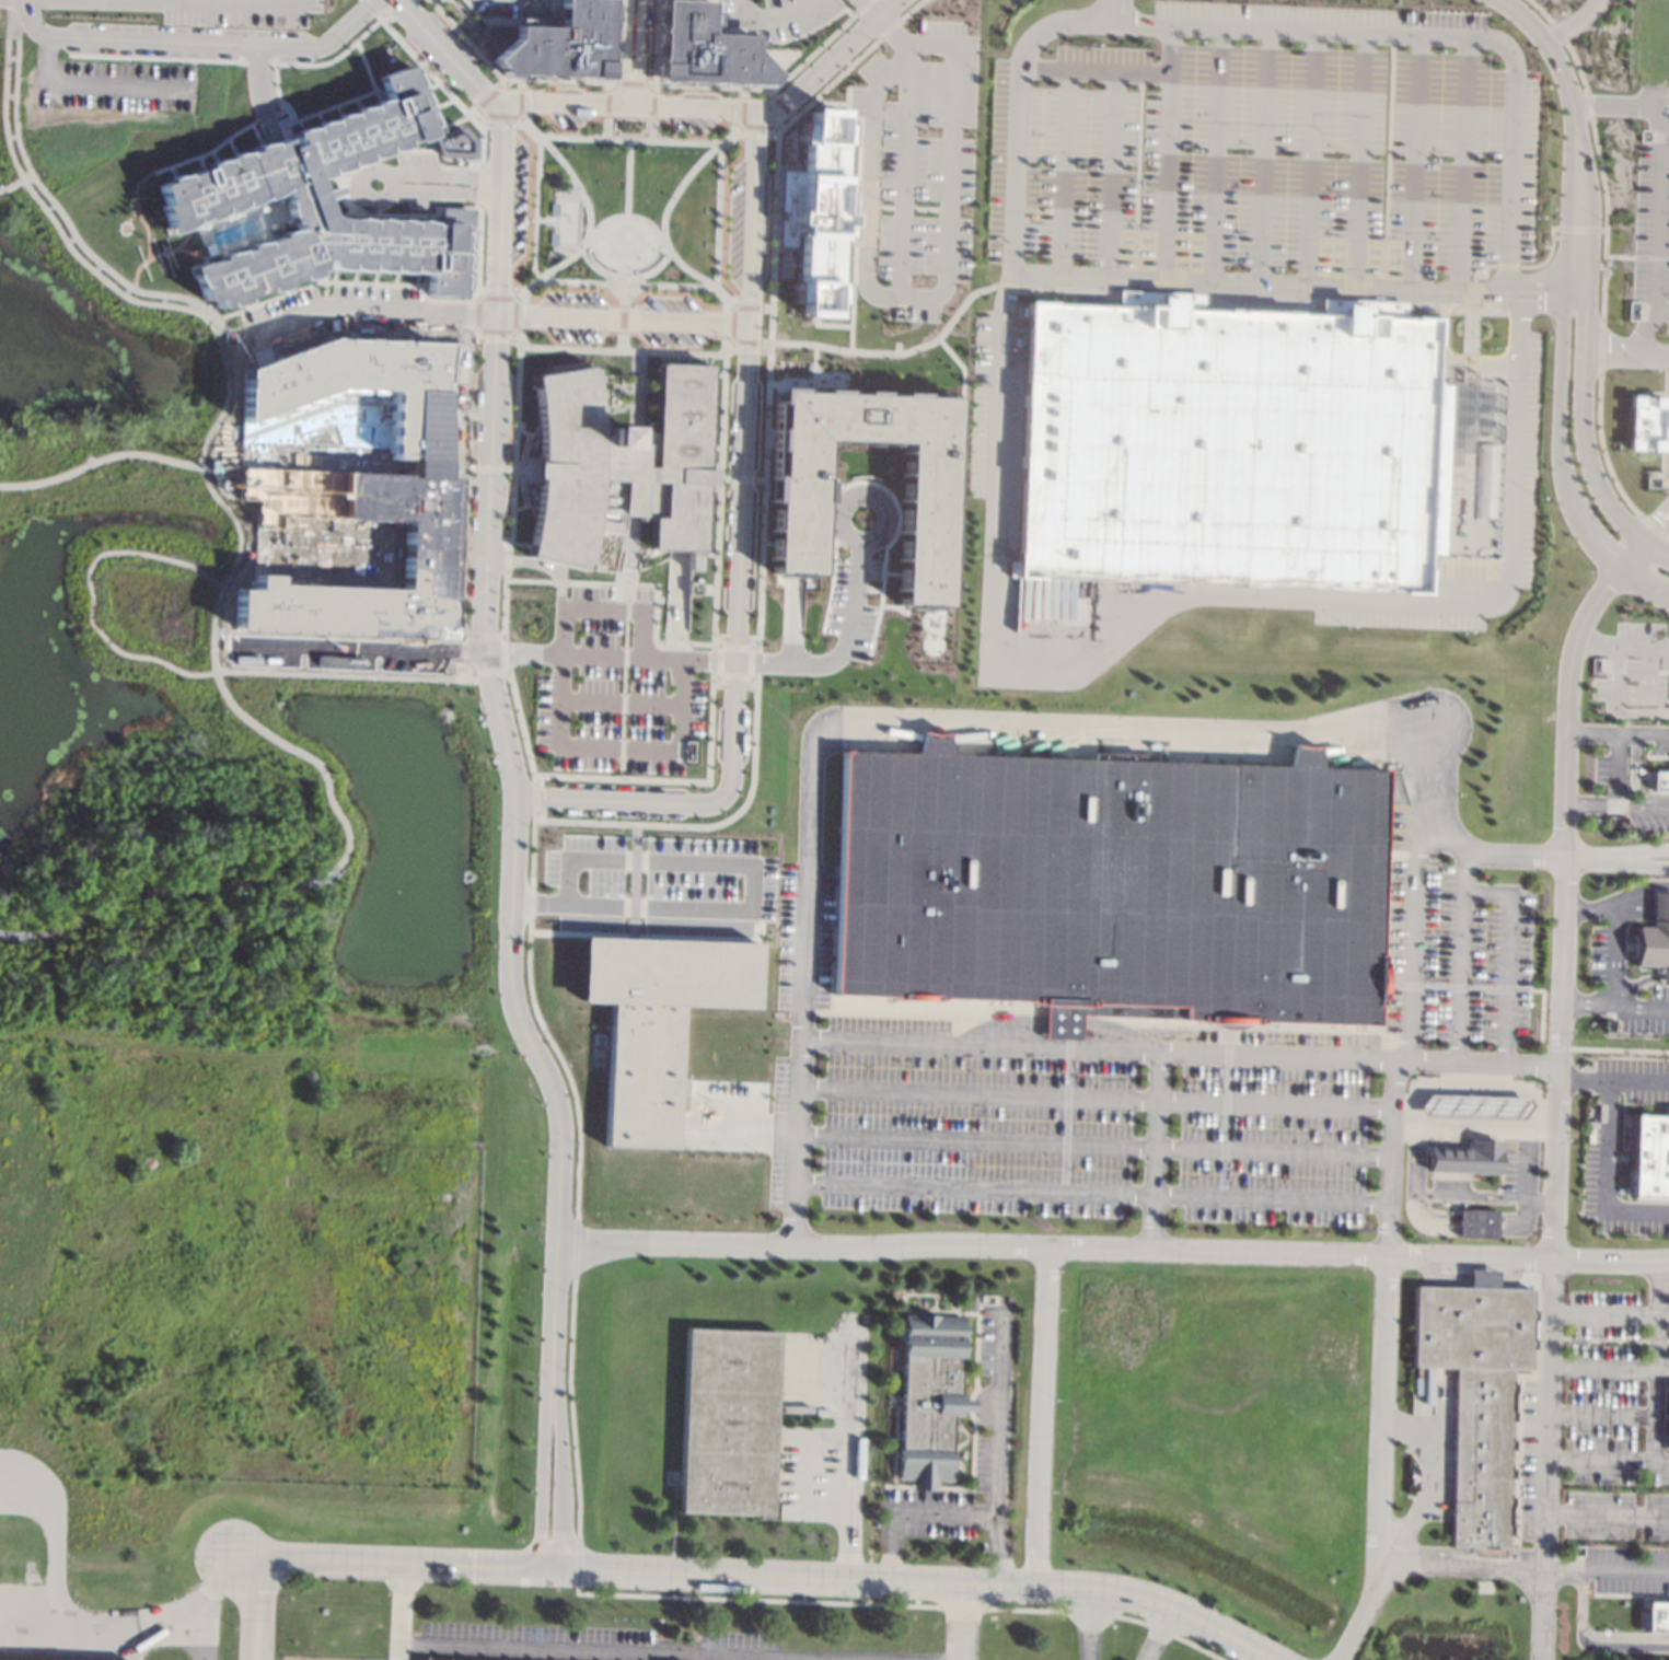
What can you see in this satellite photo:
road: (164, 0)
road: (182, 0)
road: (213, 2)
road: (9, 4)
road: (862, 5)
parking lot: (512, 8)
road: (909, 9)
parking lot: (199, 10)
road: (1117, 10)
road: (1540, 10)
road: (382, 12)
road: (769, 14)
parking lot: (775, 14)
road: (1054, 21)
road: (1143, 22)
road: (1572, 22)
road: (879, 23)
parking lot: (184, 28)
road: (888, 28)
road: (1556, 31)
road: (1463, 35)
road: (611, 40)
road: (193, 42)
road: (654, 42)
building: (559, 45)
road: (1546, 45)
road: (922, 46)
building: (704, 49)
road: (624, 50)
road: (638, 51)
parking lot: (147, 53)
road: (444, 55)
road: (154, 58)
parking lot: (293, 58)
road: (255, 59)
road: (331, 59)
road: (1576, 66)
road: (1093, 71)
road: (503, 79)
road: (499, 82)
road: (611, 82)
road: (629, 82)
road: (96, 83)
road: (519, 83)
parking lot: (112, 85)
road: (440, 85)
road: (653, 88)
road: (765, 89)
road: (742, 91)
road: (275, 92)
road: (258, 93)
road: (769, 93)
road: (486, 96)
road: (605, 103)
road: (651, 104)
road: (780, 104)
road: (1588, 104)
road: (718, 106)
road: (476, 112)
road: (790, 115)
road: (478, 116)
road: (513, 116)
road: (264, 117)
parking lot: (568, 118)
parking lot: (689, 123)
road: (741, 126)
road: (604, 127)
road: (650, 128)
road: (774, 129)
road: (1665, 136)
building: (453, 143)
road: (405, 149)
road: (1164, 150)
parking lot: (1262, 150)
road: (1215, 152)
road: (1262, 154)
road: (1310, 156)
parking lot: (923, 159)
road: (1357, 159)
parking lot: (414, 160)
road: (404, 161)
road: (471, 161)
road: (1414, 162)
road: (1461, 163)
road: (158, 169)
road: (1658, 169)
road: (367, 170)
road: (1060, 171)
road: (566, 172)
road: (1108, 173)
road: (441, 175)
road: (626, 175)
road: (685, 175)
road: (902, 178)
road: (15, 183)
road: (477, 185)
road: (866, 185)
road: (891, 187)
road: (442, 190)
road: (949, 193)
parking lot: (517, 199)
road: (1591, 199)
road: (1566, 200)
road: (53, 204)
building: (317, 204)
parking lot: (415, 205)
road: (849, 206)
road: (862, 206)
road: (535, 207)
road: (883, 207)
road: (901, 208)
building: (548, 209)
park: (625, 209)
road: (930, 209)
building: (813, 210)
road: (405, 214)
road: (715, 214)
road: (750, 217)
road: (1604, 217)
road: (543, 220)
parking lot: (732, 222)
road: (889, 225)
parking lot: (1651, 227)
road: (1577, 229)
road: (1601, 230)
building: (547, 239)
road: (584, 240)
road: (889, 240)
road: (660, 243)
road: (653, 255)
road: (1546, 255)
road: (1616, 256)
road: (1649, 257)
road: (148, 258)
road: (1505, 266)
road: (548, 269)
road: (1483, 272)
road: (694, 275)
road: (621, 277)
road: (134, 278)
road: (1257, 281)
road: (390, 283)
road: (1006, 285)
road: (126, 291)
road: (621, 291)
road: (1471, 292)
road: (1511, 292)
road: (1540, 293)
road: (323, 294)
road: (1574, 294)
road: (510, 297)
parking lot: (569, 298)
parking lot: (665, 302)
road: (368, 307)
road: (764, 307)
parking lot: (339, 314)
road: (619, 317)
road: (618, 320)
road: (768, 321)
road: (244, 322)
road: (729, 323)
road: (1643, 326)
road: (1470, 328)
parking lot: (573, 334)
parking lot: (670, 338)
road: (618, 340)
road: (763, 343)
road: (259, 346)
road: (1598, 346)
road: (725, 347)
road: (894, 353)
road: (1626, 356)
road: (1446, 358)
road: (1468, 362)
road: (635, 363)
road: (1488, 376)
building: (364, 384)
road: (961, 398)
parking lot: (985, 404)
road: (634, 408)
road: (216, 420)
building: (1644, 422)
road: (1512, 438)
road: (512, 441)
road: (1583, 443)
building: (1229, 444)
road: (522, 446)
road: (100, 458)
parking lot: (1529, 460)
building: (617, 465)
road: (467, 467)
road: (487, 467)
road: (1606, 467)
road: (506, 468)
road: (513, 468)
road: (1560, 468)
road: (526, 469)
road: (722, 478)
road: (740, 478)
road: (756, 479)
road: (462, 483)
building: (793, 489)
road: (521, 491)
road: (715, 530)
road: (1656, 531)
road: (628, 541)
road: (624, 546)
building: (425, 552)
road: (1632, 557)
road: (503, 559)
road: (617, 560)
road: (537, 565)
road: (615, 577)
road: (676, 591)
road: (603, 596)
road: (640, 597)
road: (501, 602)
parking lot: (851, 602)
road: (792, 607)
road: (623, 611)
parking lot: (1396, 618)
road: (561, 632)
road: (845, 641)
road: (1596, 642)
road: (674, 645)
road: (714, 645)
road: (1642, 647)
road: (989, 648)
road: (356, 649)
road: (790, 652)
road: (520, 654)
road: (621, 655)
road: (706, 660)
road: (731, 664)
parking lot: (1636, 664)
road: (169, 665)
road: (502, 672)
road: (622, 673)
road: (717, 674)
parking lot: (613, 686)
park: (195, 693)
road: (1630, 695)
road: (617, 703)
road: (1634, 712)
road: (929, 725)
road: (1591, 732)
road: (1643, 734)
road: (617, 746)
road: (503, 748)
road: (1616, 769)
road: (619, 778)
road: (532, 779)
road: (1635, 779)
building: (1660, 780)
road: (533, 798)
road: (1590, 805)
road: (1643, 806)
road: (533, 815)
road: (672, 825)
road: (631, 831)
road: (1546, 852)
road: (1648, 852)
road: (1647, 863)
road: (1463, 871)
road: (305, 880)
parking lot: (659, 883)
building: (1109, 883)
road: (747, 890)
road: (1636, 890)
road: (629, 891)
road: (144, 892)
road: (609, 894)
road: (653, 895)
road: (528, 903)
road: (1589, 909)
road: (1643, 910)
road: (1413, 925)
road: (14, 936)
road: (653, 936)
building: (1654, 939)
road: (751, 940)
road: (751, 943)
parking lot: (1602, 954)
road: (1505, 956)
road: (1615, 957)
road: (1460, 977)
road: (1540, 1003)
road: (1613, 1006)
parking lot: (1642, 1007)
building: (652, 1020)
road: (1179, 1052)
road: (563, 1067)
parking lot: (1635, 1077)
road: (1585, 1081)
parking lot: (1123, 1082)
road: (1641, 1083)
parking lot: (728, 1088)
road: (1096, 1098)
building: (1471, 1105)
road: (1556, 1107)
road: (712, 1119)
road: (1473, 1130)
road: (762, 1133)
road: (702, 1142)
road: (1093, 1145)
road: (1152, 1149)
building: (1647, 1154)
road: (1389, 1157)
building: (1467, 1157)
road: (1416, 1161)
road: (1523, 1163)
road: (1609, 1176)
parking lot: (1615, 1189)
road: (1092, 1193)
road: (1469, 1194)
road: (1539, 1197)
road: (1425, 1219)
road: (1518, 1220)
building: (1475, 1222)
road: (1475, 1223)
road: (1112, 1245)
road: (573, 1247)
road: (1467, 1277)
building: (972, 1302)
road: (1610, 1313)
road: (1657, 1361)
road: (1609, 1368)
building: (1477, 1393)
building: (928, 1397)
road: (570, 1407)
road: (998, 1412)
road: (1602, 1414)
road: (1039, 1418)
building: (1668, 1420)
building: (728, 1423)
parking lot: (1599, 1449)
road: (850, 1461)
road: (1608, 1462)
road: (1380, 1463)
road: (544, 1482)
road: (561, 1482)
road: (1427, 1485)
road: (948, 1513)
road: (1608, 1513)
road: (247, 1559)
road: (577, 1563)
road: (1523, 1567)
road: (770, 1581)
road: (755, 1599)
road: (962, 1606)
road: (1024, 1609)
road: (259, 1613)
road: (401, 1613)
road: (1091, 1613)
building: (1654, 1616)
road: (76, 1620)
road: (1133, 1620)
road: (955, 1625)
road: (1086, 1627)
road: (202, 1628)
road: (1160, 1629)
road: (1156, 1635)
road: (1595, 1636)
road: (1197, 1648)
road: (581, 1650)

